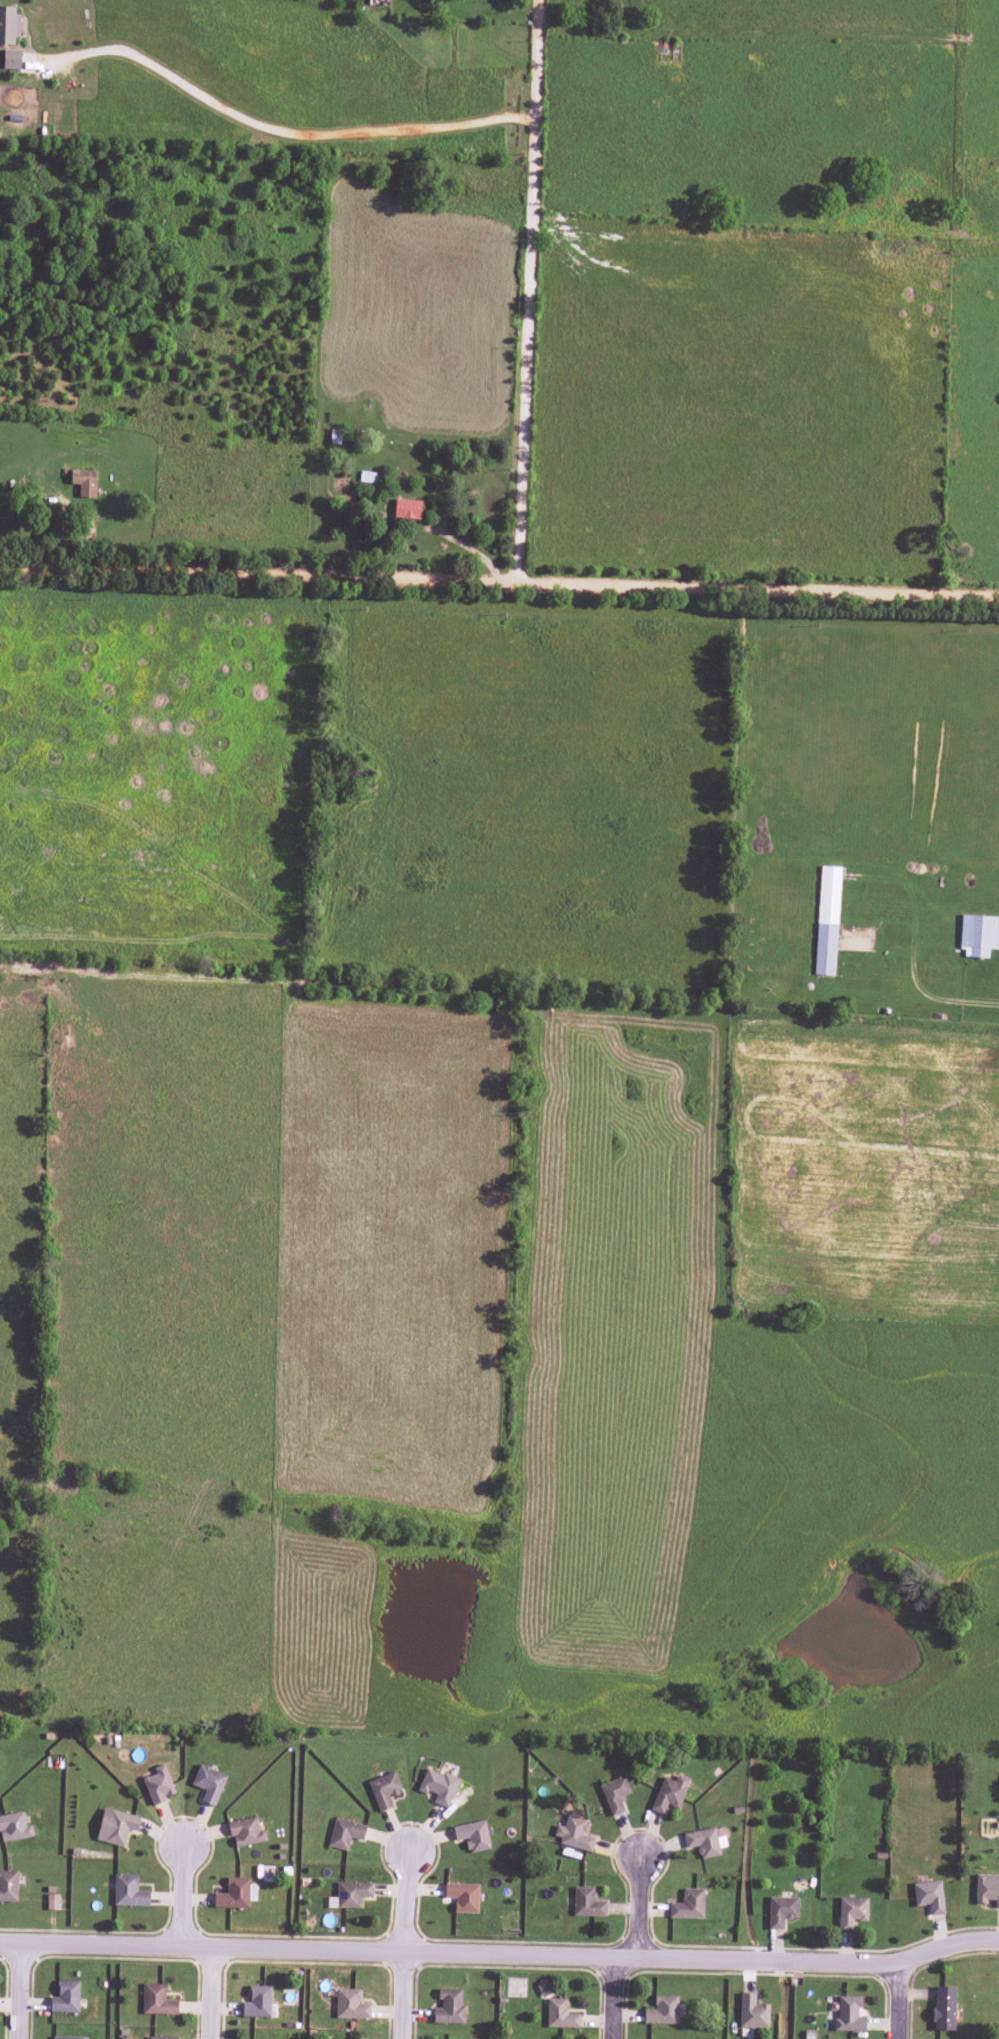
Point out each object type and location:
building: (374, 2)
building: (8, 25)
building: (11, 59)
road: (275, 130)
road: (533, 293)
building: (84, 482)
building: (407, 509)
road: (499, 586)
building: (979, 935)
building: (208, 1784)
building: (158, 1785)
building: (438, 1786)
building: (383, 1790)
building: (614, 1794)
building: (669, 1794)
building: (115, 1826)
building: (14, 1827)
building: (245, 1832)
building: (345, 1833)
building: (573, 1833)
building: (472, 1835)
building: (702, 1842)
building: (8, 1886)
building: (987, 1889)
building: (128, 1891)
building: (235, 1894)
building: (352, 1894)
building: (929, 1896)
road: (180, 1897)
building: (462, 1897)
building: (52, 1902)
building: (587, 1903)
building: (688, 1905)
road: (643, 1906)
building: (781, 1911)
building: (851, 1912)
road: (406, 1946)
road: (501, 1954)
road: (6, 1989)
building: (544, 1989)
road: (217, 1992)
building: (65, 1997)
road: (618, 1998)
building: (157, 2000)
building: (257, 2002)
road: (904, 2003)
building: (350, 2005)
building: (449, 2007)
building: (943, 2008)
building: (662, 2011)
building: (752, 2012)
building: (560, 2014)
building: (848, 2014)
building: (66, 2037)
building: (161, 2038)

